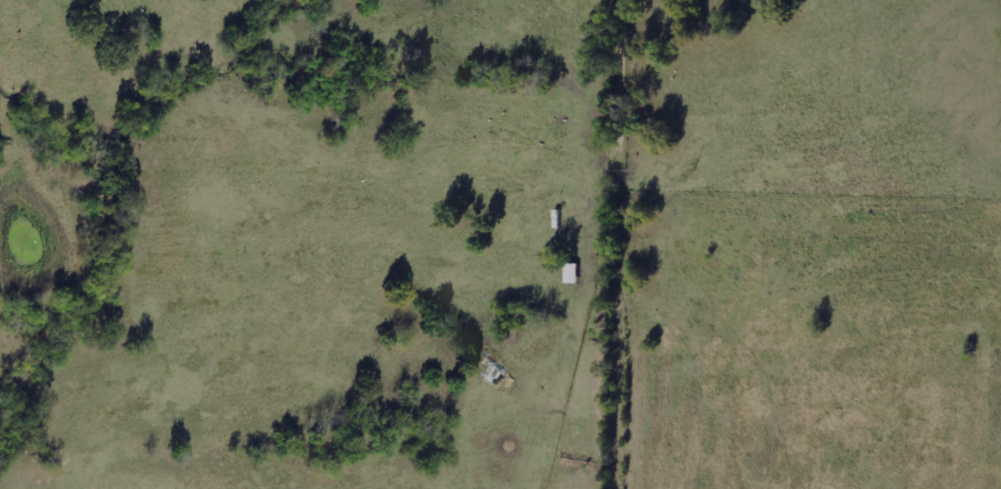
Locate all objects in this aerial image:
road: (626, 244)
building: (570, 273)

